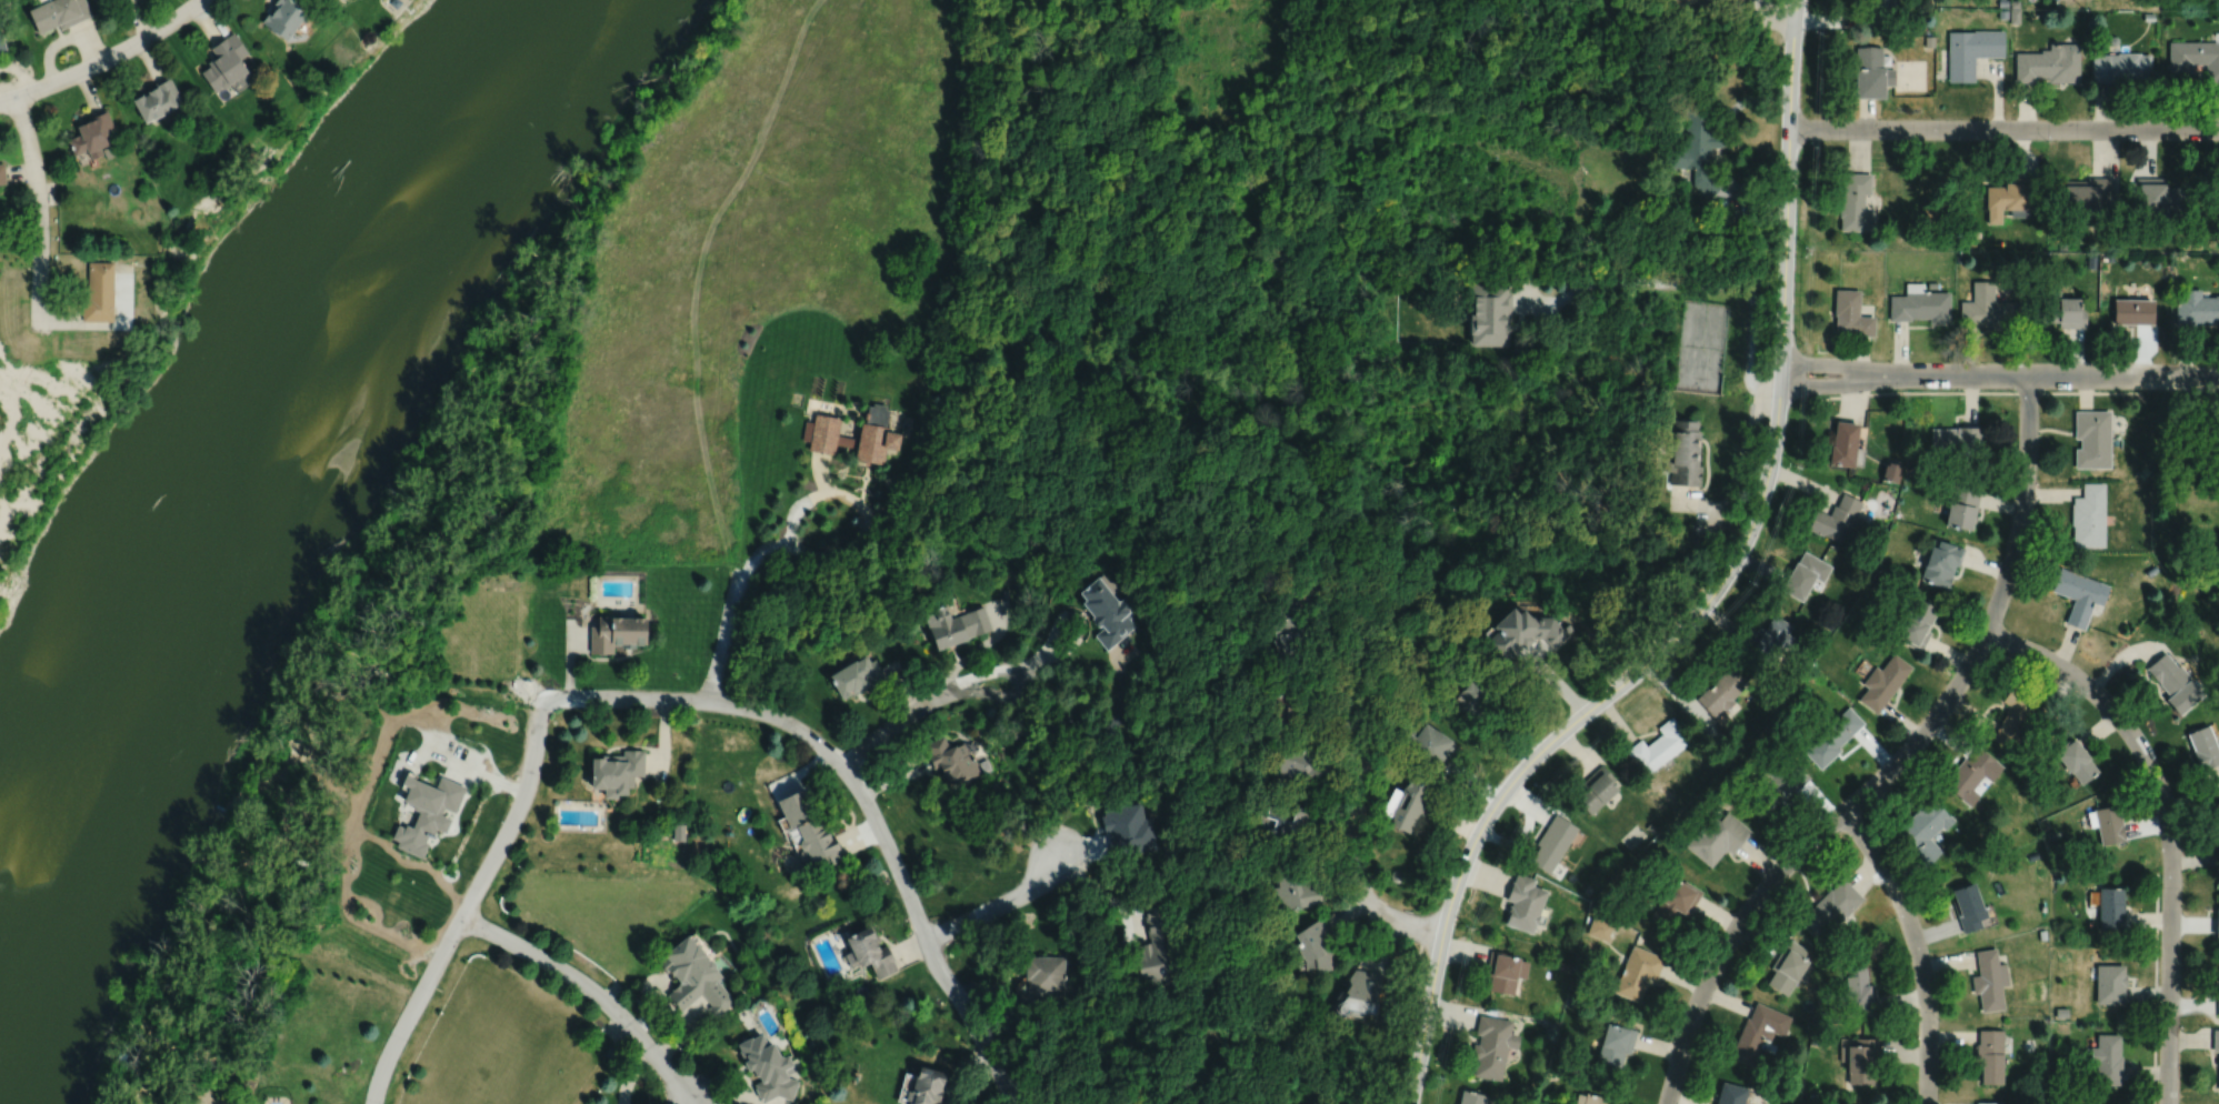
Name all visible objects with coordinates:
building: (2003, 2)
building: (2016, 3)
building: (59, 12)
building: (1877, 13)
building: (2003, 13)
road: (1773, 14)
building: (2015, 16)
building: (2149, 16)
building: (286, 17)
building: (2115, 39)
building: (2, 41)
building: (1929, 41)
building: (1972, 50)
road: (111, 54)
building: (2196, 58)
building: (226, 60)
building: (2050, 63)
road: (1237, 66)
building: (2120, 66)
building: (1871, 71)
building: (158, 97)
road: (7, 98)
street lamp: (36, 101)
street lamp: (1932, 118)
street lamp: (2161, 118)
road: (2003, 128)
building: (92, 131)
street lamp: (2046, 140)
road: (1717, 143)
street lamp: (1811, 145)
building: (1698, 148)
building: (108, 151)
building: (2, 171)
building: (2088, 191)
building: (2160, 192)
building: (2012, 194)
building: (1856, 201)
road: (38, 210)
building: (1746, 223)
building: (1971, 239)
building: (2062, 244)
street lamp: (1807, 247)
building: (2066, 253)
building: (1959, 257)
building: (2105, 257)
building: (2111, 257)
road: (1692, 280)
building: (2132, 282)
building: (1932, 283)
building: (99, 291)
building: (1920, 303)
building: (1990, 307)
building: (2197, 307)
building: (2063, 309)
building: (2135, 309)
building: (1489, 312)
building: (1850, 312)
park: (1702, 345)
street lamp: (2169, 357)
road: (1830, 362)
road: (2048, 374)
road: (1829, 384)
road: (1985, 391)
street lamp: (1810, 395)
street lamp: (1903, 395)
street lamp: (2017, 395)
building: (877, 432)
building: (1956, 436)
building: (2093, 436)
building: (1843, 442)
building: (1685, 453)
river: (234, 454)
street lamp: (1796, 466)
road: (1737, 469)
building: (1891, 471)
park: (2187, 499)
building: (1961, 505)
road: (862, 508)
building: (1606, 511)
building: (2090, 515)
building: (1837, 518)
street lamp: (2025, 549)
building: (1876, 561)
building: (1941, 562)
building: (2152, 569)
building: (1805, 574)
street lamp: (1747, 585)
building: (2080, 594)
road: (1709, 596)
road: (731, 610)
building: (1109, 613)
building: (1917, 622)
building: (956, 625)
road: (1081, 626)
building: (1568, 626)
building: (1290, 628)
building: (618, 633)
building: (1522, 633)
building: (1822, 634)
building: (1771, 638)
road: (984, 643)
road: (569, 656)
building: (859, 678)
road: (1556, 681)
building: (1883, 682)
building: (2177, 683)
road: (904, 684)
road: (974, 690)
street lamp: (1647, 690)
building: (1781, 690)
building: (1722, 691)
street lamp: (2079, 695)
building: (1475, 696)
road: (703, 700)
building: (1289, 712)
building: (2045, 715)
street lamp: (1949, 716)
building: (2015, 717)
road: (1107, 732)
building: (1832, 737)
road: (663, 740)
building: (1428, 746)
building: (1659, 746)
building: (2206, 747)
building: (2077, 761)
building: (951, 762)
road: (1897, 762)
building: (1306, 771)
building: (617, 772)
building: (2028, 772)
road: (487, 775)
building: (1971, 775)
road: (893, 777)
road: (1358, 779)
building: (1776, 784)
street lamp: (1539, 787)
building: (1597, 790)
building: (1405, 805)
building: (427, 811)
building: (2217, 814)
road: (2169, 823)
building: (1297, 824)
building: (2108, 824)
building: (807, 825)
building: (1651, 826)
building: (679, 830)
building: (1130, 830)
building: (1926, 831)
road: (858, 834)
building: (2051, 834)
building: (1718, 837)
building: (1552, 843)
building: (2033, 855)
building: (1396, 875)
street lamp: (2160, 875)
building: (1297, 887)
building: (1587, 890)
road: (1100, 892)
building: (1676, 900)
building: (1597, 901)
building: (1523, 902)
road: (467, 904)
road: (999, 905)
building: (1968, 906)
building: (2111, 906)
building: (1829, 909)
street lamp: (1896, 916)
building: (2218, 920)
building: (1600, 926)
building: (2042, 933)
road: (924, 936)
building: (1316, 942)
road: (1385, 943)
road: (911, 946)
road: (1916, 947)
building: (871, 949)
building: (1159, 949)
building: (1825, 952)
building: (1787, 964)
building: (1565, 965)
building: (1505, 968)
building: (1638, 970)
building: (694, 973)
road: (658, 977)
building: (1042, 978)
building: (1989, 978)
building: (2110, 981)
building: (1362, 982)
road: (2155, 987)
road: (590, 988)
building: (1858, 990)
road: (1001, 997)
building: (1569, 1000)
building: (2218, 1003)
road: (660, 1008)
street lamp: (1939, 1020)
street lamp: (2158, 1020)
building: (1759, 1028)
road: (681, 1033)
building: (1815, 1038)
building: (2216, 1038)
building: (1616, 1043)
building: (1492, 1044)
building: (1989, 1053)
building: (120, 1056)
building: (1859, 1057)
building: (2107, 1057)
building: (2218, 1061)
road: (1103, 1062)
building: (770, 1065)
road: (629, 1074)
road: (963, 1074)
building: (926, 1085)
building: (2043, 1091)
building: (1732, 1093)
road: (724, 1096)
building: (1472, 1096)
building: (1811, 1096)
building: (1595, 1098)
road: (1912, 1098)
road: (690, 1101)
road: (696, 1101)
building: (1989, 1102)
building: (1132, 1103)

